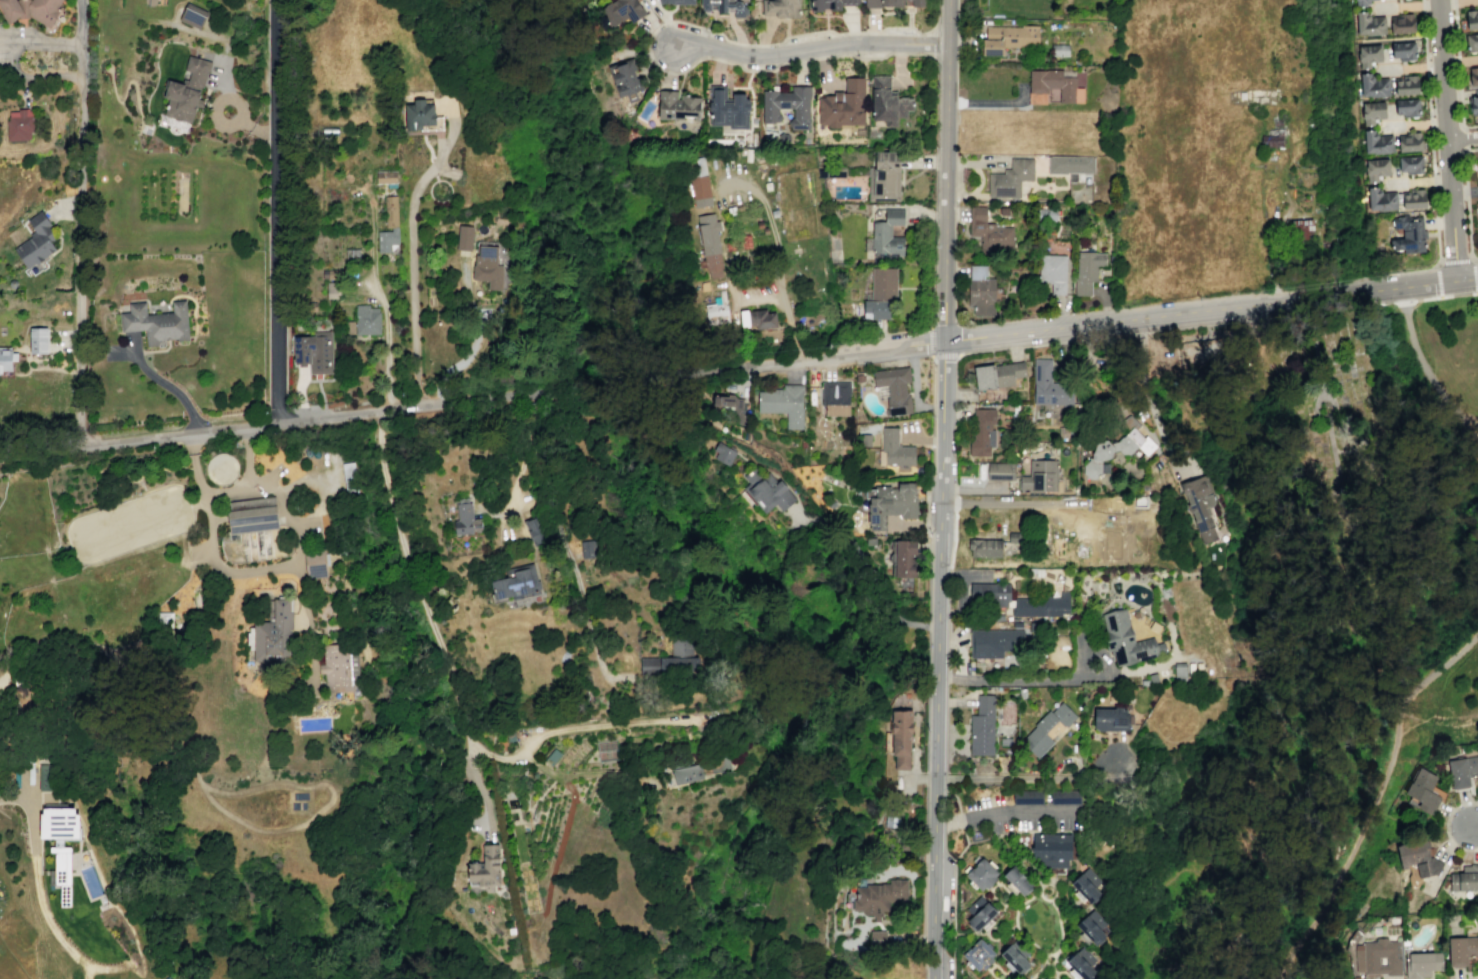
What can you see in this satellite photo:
building: (676, 2)
building: (895, 3)
building: (1359, 3)
road: (1453, 3)
building: (830, 4)
road: (1424, 4)
road: (1422, 5)
building: (725, 7)
building: (779, 8)
building: (30, 10)
building: (620, 11)
building: (192, 15)
building: (1469, 20)
building: (1399, 23)
building: (1366, 24)
road: (1455, 31)
road: (205, 33)
road: (1423, 35)
building: (1008, 38)
building: (1471, 42)
road: (936, 44)
road: (808, 48)
building: (1059, 49)
building: (1403, 50)
building: (1368, 55)
road: (2, 57)
road: (4, 58)
road: (1457, 61)
road: (784, 63)
road: (1425, 66)
road: (1428, 66)
road: (223, 75)
building: (1473, 75)
building: (1075, 77)
building: (625, 79)
building: (1373, 85)
building: (1406, 85)
building: (1052, 87)
building: (186, 90)
road: (1428, 94)
building: (1241, 96)
building: (1473, 101)
building: (887, 102)
road: (990, 103)
road: (1459, 103)
building: (843, 104)
building: (786, 105)
building: (1407, 106)
building: (677, 107)
building: (727, 108)
building: (1372, 111)
building: (418, 115)
road: (239, 116)
road: (1412, 123)
road: (1429, 123)
building: (19, 124)
road: (255, 129)
road: (1463, 138)
road: (1446, 139)
road: (1462, 139)
building: (1271, 141)
building: (1409, 141)
building: (1377, 142)
road: (1431, 151)
road: (1464, 160)
building: (1477, 161)
building: (1410, 163)
building: (1070, 164)
building: (1375, 168)
road: (947, 169)
building: (385, 177)
building: (884, 177)
road: (978, 178)
building: (1010, 178)
road: (1433, 180)
road: (1416, 181)
building: (700, 191)
road: (1463, 191)
road: (1466, 191)
building: (1413, 198)
building: (1380, 199)
building: (1477, 206)
road: (63, 208)
road: (275, 211)
building: (390, 211)
building: (1045, 214)
road: (80, 223)
road: (769, 227)
building: (1300, 228)
building: (887, 231)
building: (988, 231)
road: (1468, 233)
building: (1408, 235)
building: (464, 237)
building: (386, 240)
building: (35, 241)
building: (710, 244)
road: (1437, 250)
road: (411, 251)
road: (1272, 256)
road: (1455, 262)
building: (487, 267)
building: (1087, 270)
building: (1052, 272)
road: (1369, 276)
road: (1340, 280)
road: (1434, 281)
road: (914, 287)
building: (332, 289)
road: (1371, 290)
building: (981, 291)
building: (880, 293)
road: (378, 294)
road: (1445, 295)
road: (1403, 301)
road: (1372, 304)
road: (783, 307)
building: (716, 314)
road: (1282, 315)
building: (761, 319)
building: (366, 320)
building: (156, 321)
road: (1207, 321)
road: (1208, 323)
road: (1004, 331)
road: (1199, 335)
road: (1081, 338)
building: (37, 340)
building: (1213, 342)
power substation: (1199, 351)
building: (314, 352)
road: (1317, 352)
road: (931, 355)
building: (5, 359)
road: (1422, 366)
building: (996, 374)
building: (858, 377)
road: (932, 378)
road: (629, 384)
building: (1048, 385)
building: (894, 389)
road: (914, 389)
road: (1145, 395)
building: (835, 398)
building: (783, 403)
road: (1334, 403)
building: (731, 407)
road: (932, 410)
park: (1309, 418)
road: (299, 420)
building: (981, 432)
building: (1117, 446)
building: (895, 449)
building: (723, 453)
road: (247, 458)
road: (520, 460)
road: (1334, 462)
building: (1000, 471)
building: (349, 476)
building: (1040, 476)
road: (269, 479)
road: (319, 489)
building: (767, 490)
building: (890, 503)
road: (1014, 503)
building: (1200, 505)
building: (251, 514)
road: (926, 517)
building: (465, 520)
building: (536, 529)
road: (954, 537)
building: (1014, 537)
building: (870, 541)
building: (984, 547)
building: (588, 548)
road: (211, 556)
park: (1439, 556)
building: (902, 557)
road: (940, 558)
building: (315, 563)
road: (860, 579)
building: (516, 584)
building: (988, 595)
building: (1041, 606)
building: (997, 617)
road: (430, 619)
building: (1015, 624)
road: (927, 626)
road: (309, 629)
road: (1084, 629)
building: (273, 634)
building: (1126, 639)
building: (996, 642)
road: (960, 646)
road: (1101, 652)
building: (672, 658)
road: (1155, 662)
building: (339, 666)
building: (1179, 671)
road: (1007, 678)
building: (1152, 678)
road: (953, 702)
building: (1111, 719)
building: (981, 726)
road: (575, 728)
building: (1045, 729)
road: (1437, 731)
building: (900, 736)
road: (1078, 748)
road: (28, 762)
building: (717, 766)
building: (1461, 770)
building: (687, 773)
road: (1030, 777)
building: (44, 778)
road: (946, 778)
building: (1421, 790)
road: (954, 795)
building: (1027, 796)
building: (1065, 796)
road: (1375, 798)
road: (216, 805)
road: (925, 806)
road: (31, 811)
road: (1002, 811)
parking lot: (1015, 816)
building: (890, 820)
road: (960, 820)
building: (59, 823)
road: (1474, 825)
road: (1446, 826)
road: (1032, 831)
road: (1007, 850)
building: (1051, 852)
building: (1417, 861)
building: (485, 868)
building: (61, 870)
road: (1193, 872)
building: (980, 874)
road: (933, 878)
building: (1465, 878)
building: (1016, 881)
road: (1049, 884)
building: (1087, 884)
road: (994, 885)
building: (877, 897)
road: (954, 901)
road: (1018, 904)
road: (1002, 908)
building: (978, 913)
building: (1093, 925)
road: (1007, 928)
road: (1060, 928)
road: (970, 933)
road: (57, 935)
building: (877, 939)
road: (990, 939)
road: (1030, 941)
building: (1461, 949)
building: (978, 954)
building: (1015, 955)
building: (1378, 956)
road: (1053, 960)
road: (994, 961)
building: (1083, 962)
building: (1421, 964)
road: (1037, 970)
road: (1054, 970)
road: (1001, 972)
road: (1064, 972)
road: (1472, 977)
building: (981, 978)
building: (1045, 978)

